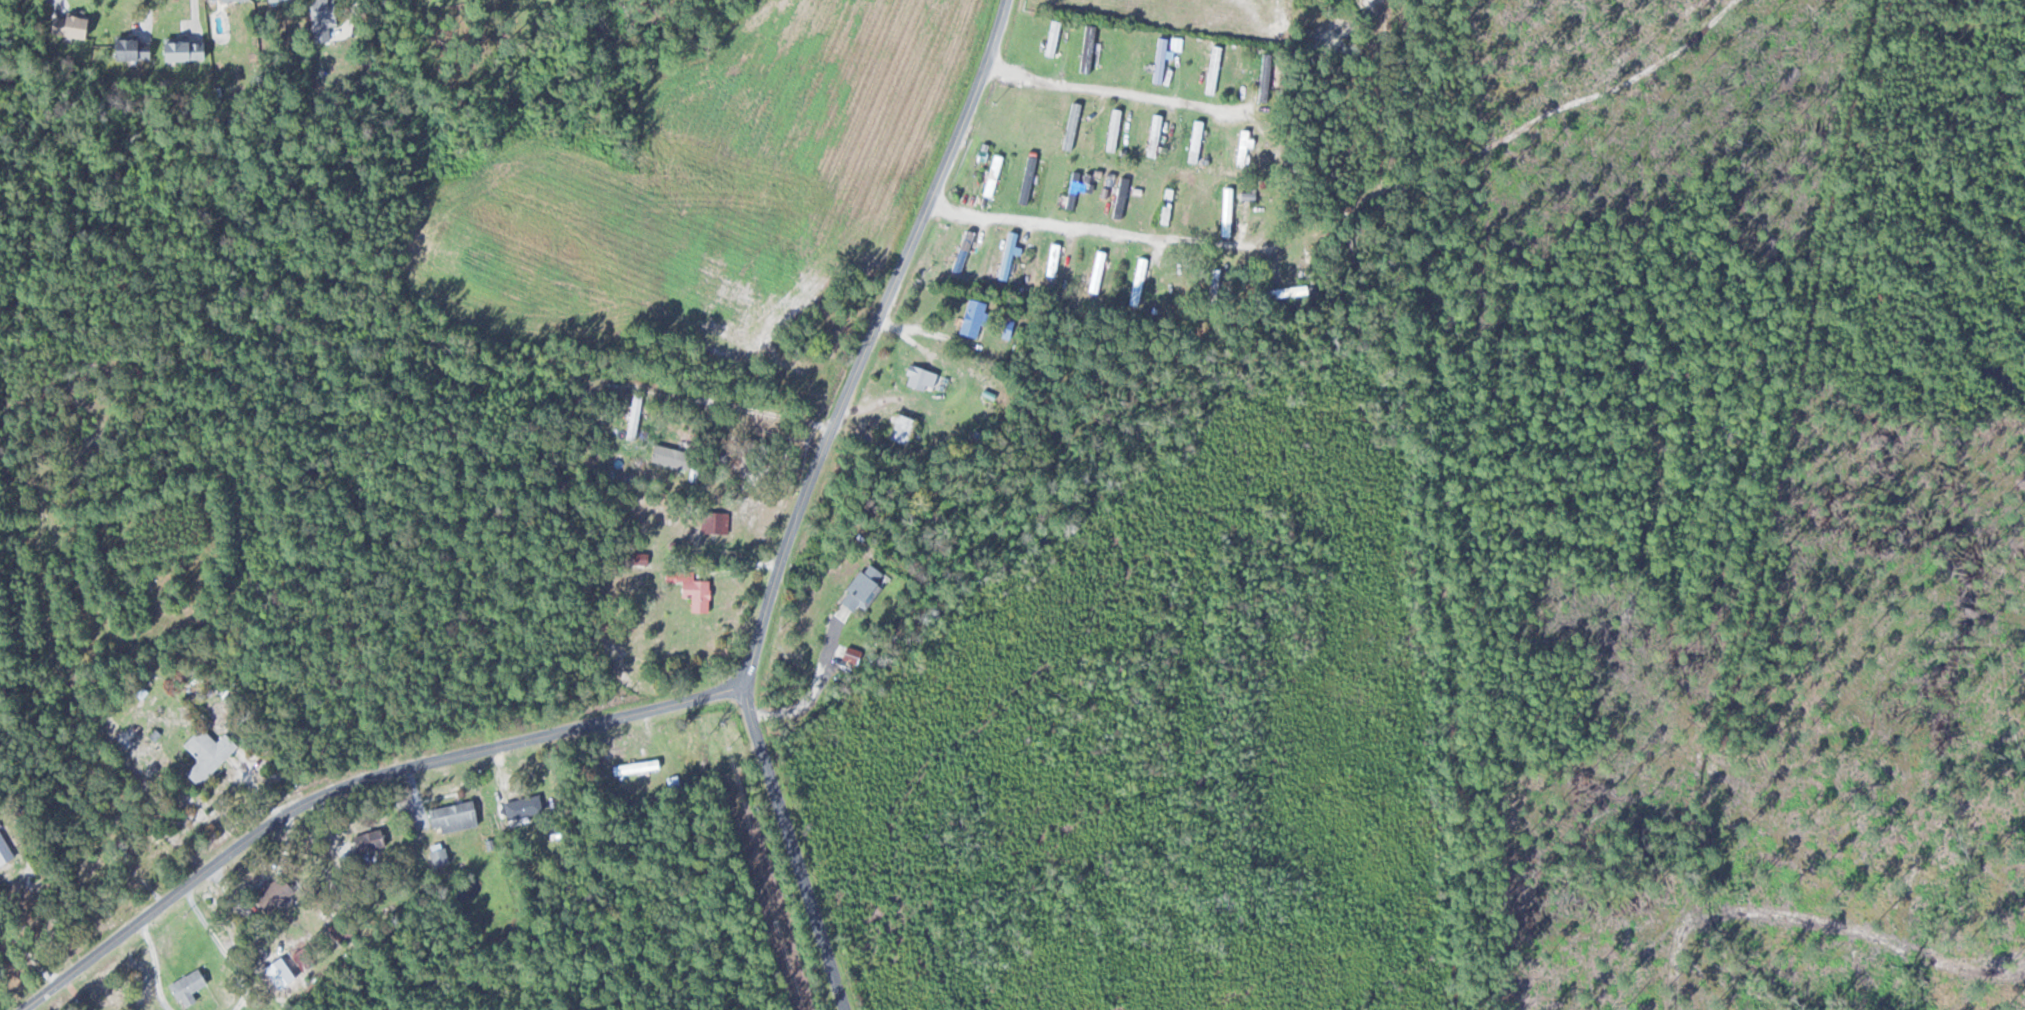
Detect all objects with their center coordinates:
building: (320, 19)
building: (65, 25)
building: (1052, 37)
building: (126, 48)
building: (178, 49)
building: (1159, 59)
building: (1211, 68)
building: (1265, 75)
road: (1108, 90)
building: (1017, 117)
building: (1070, 125)
building: (1112, 125)
building: (1154, 135)
building: (1194, 140)
building: (1241, 145)
building: (992, 175)
building: (1026, 179)
building: (1077, 186)
building: (1120, 197)
building: (1166, 205)
building: (1225, 210)
road: (1100, 232)
building: (961, 251)
building: (1006, 255)
building: (1052, 259)
building: (1095, 269)
building: (1137, 281)
building: (1284, 291)
building: (971, 317)
building: (919, 378)
building: (633, 418)
building: (899, 428)
building: (667, 458)
building: (713, 521)
building: (861, 587)
building: (694, 592)
road: (708, 698)
building: (205, 754)
building: (634, 767)
building: (521, 806)
building: (451, 816)
building: (366, 840)
building: (2, 847)
road: (793, 850)
building: (437, 856)
building: (269, 894)
building: (339, 931)
building: (185, 987)

